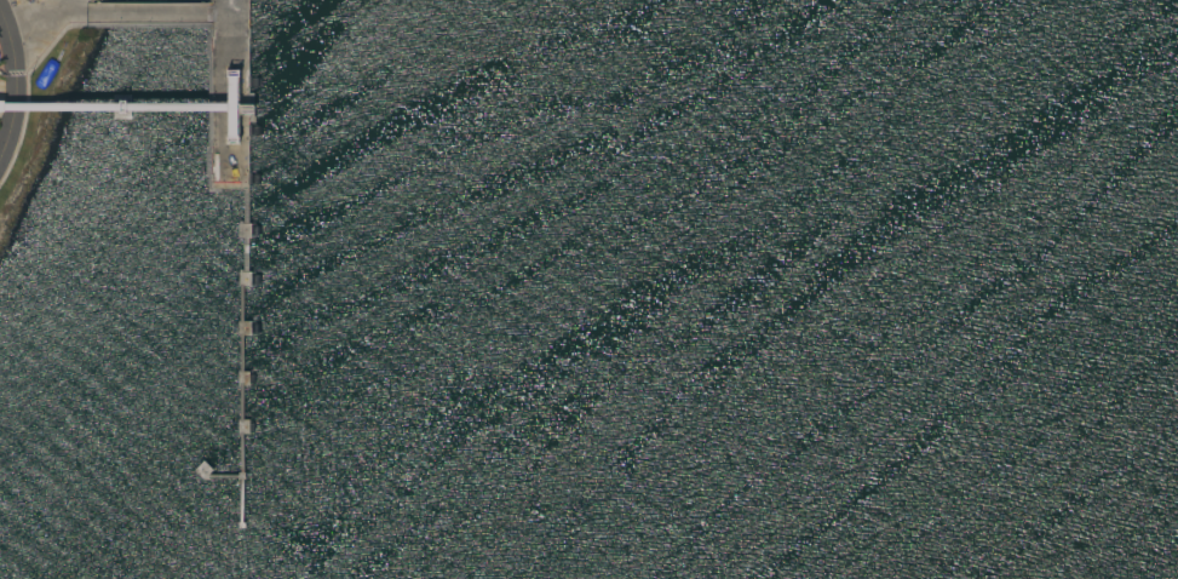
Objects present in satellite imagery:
road: (17, 82)
building: (146, 108)
pier: (122, 109)
pier: (234, 109)
pier: (241, 346)

